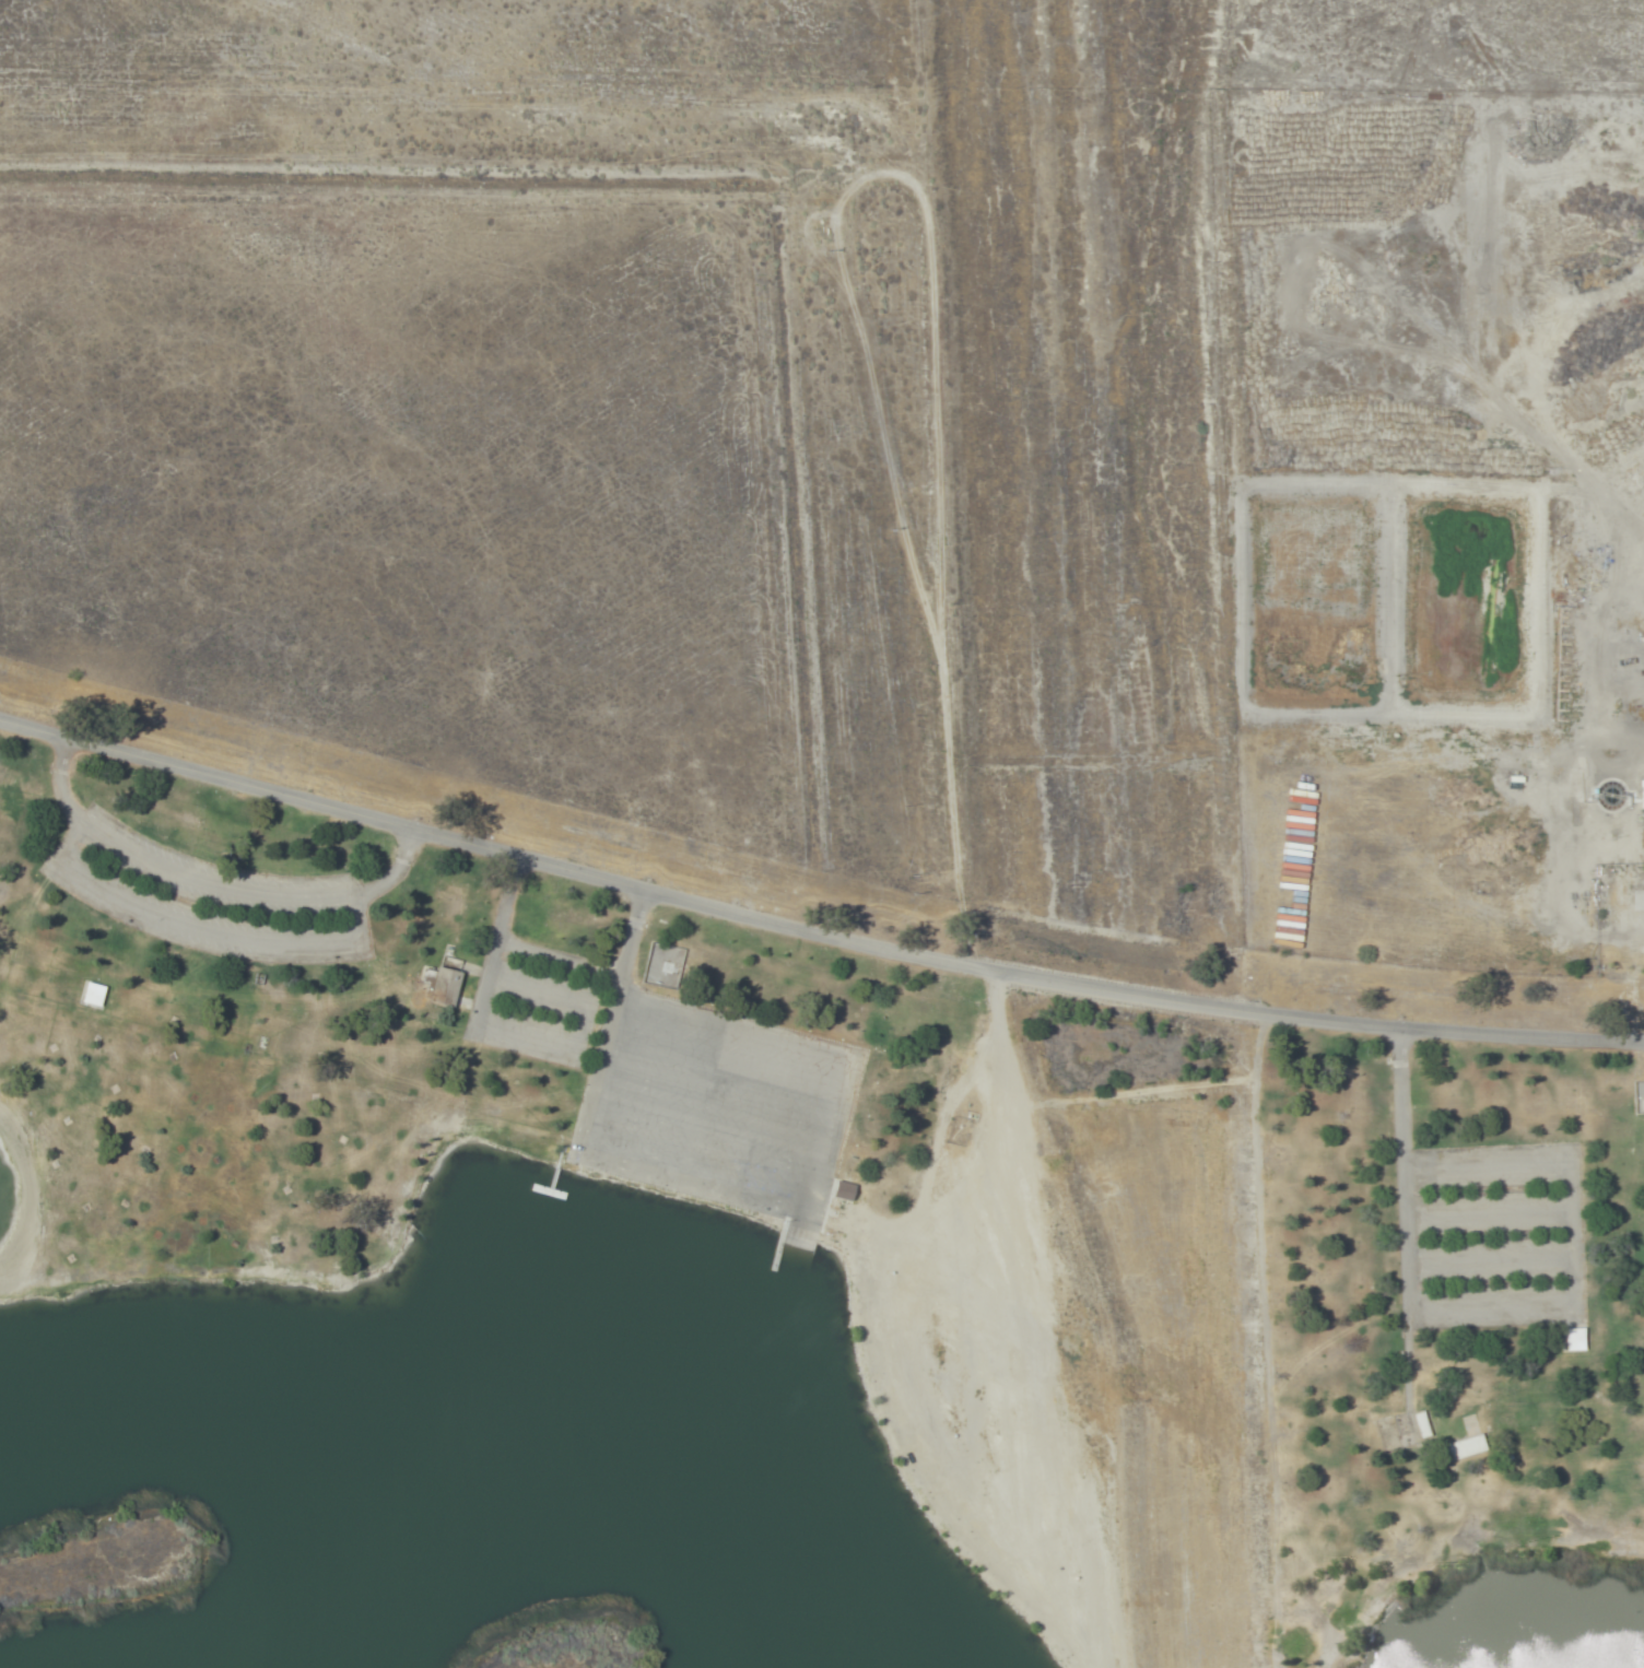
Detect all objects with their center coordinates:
road: (885, 477)
road: (1238, 507)
building: (1642, 792)
road: (209, 883)
building: (1622, 892)
road: (201, 929)
road: (813, 930)
road: (491, 933)
road: (629, 972)
building: (441, 977)
building: (90, 995)
road: (537, 1035)
road: (1393, 1167)
building: (843, 1189)
parking lot: (1492, 1236)
building: (1575, 1339)
building: (235, 1402)
building: (1420, 1424)
building: (1463, 1447)
building: (208, 1665)
building: (239, 1666)

